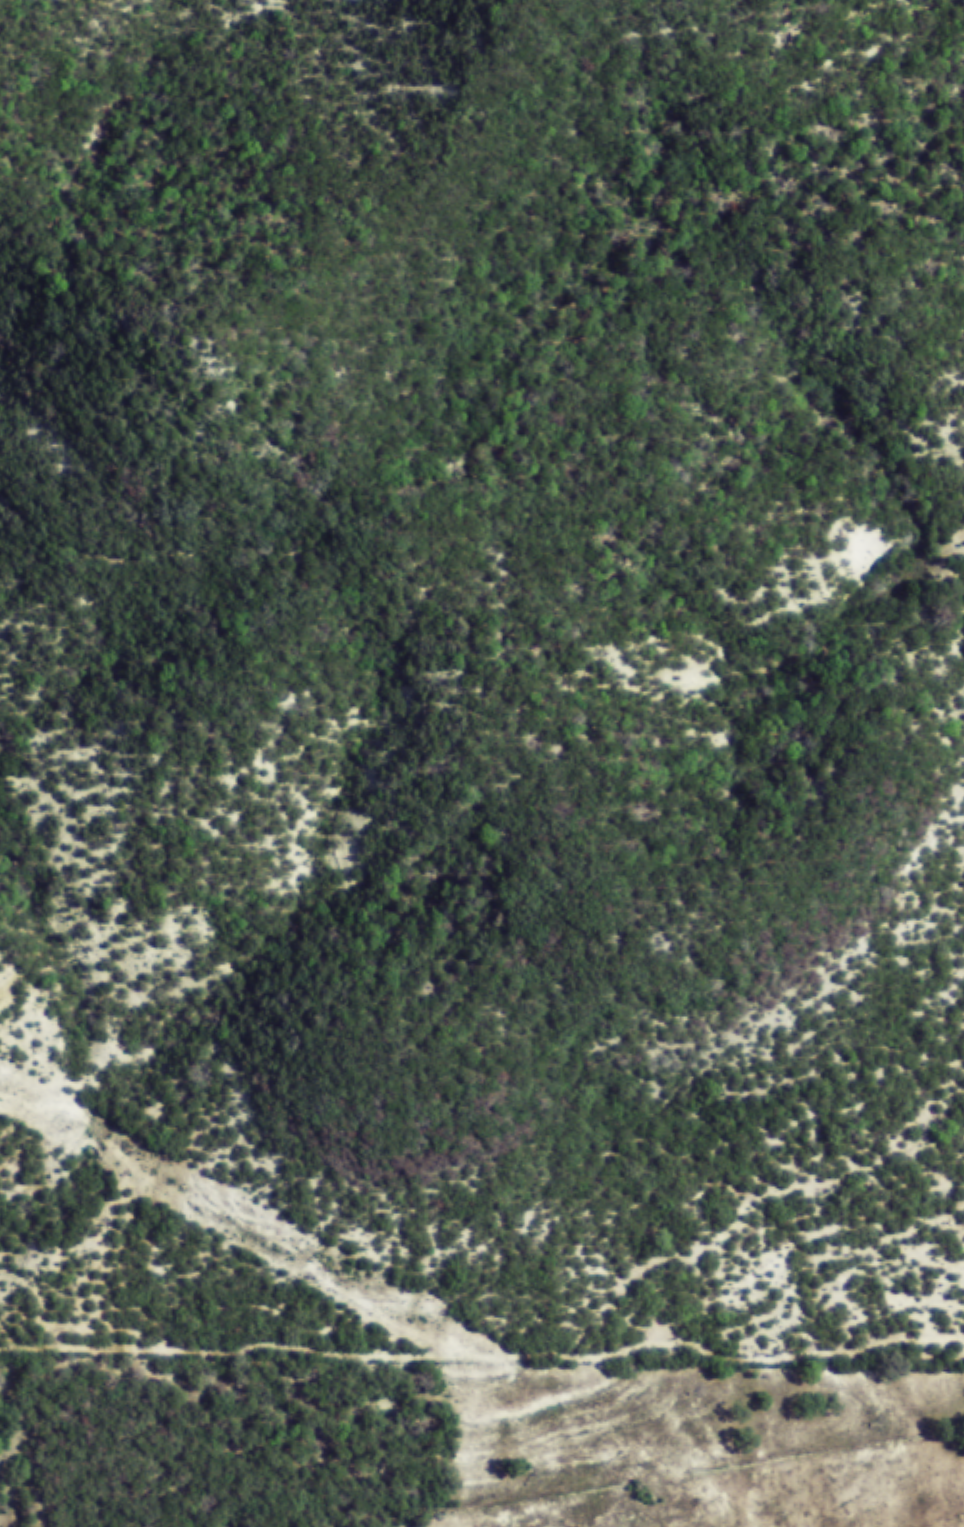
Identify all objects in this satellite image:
power tower: (521, 1368)

